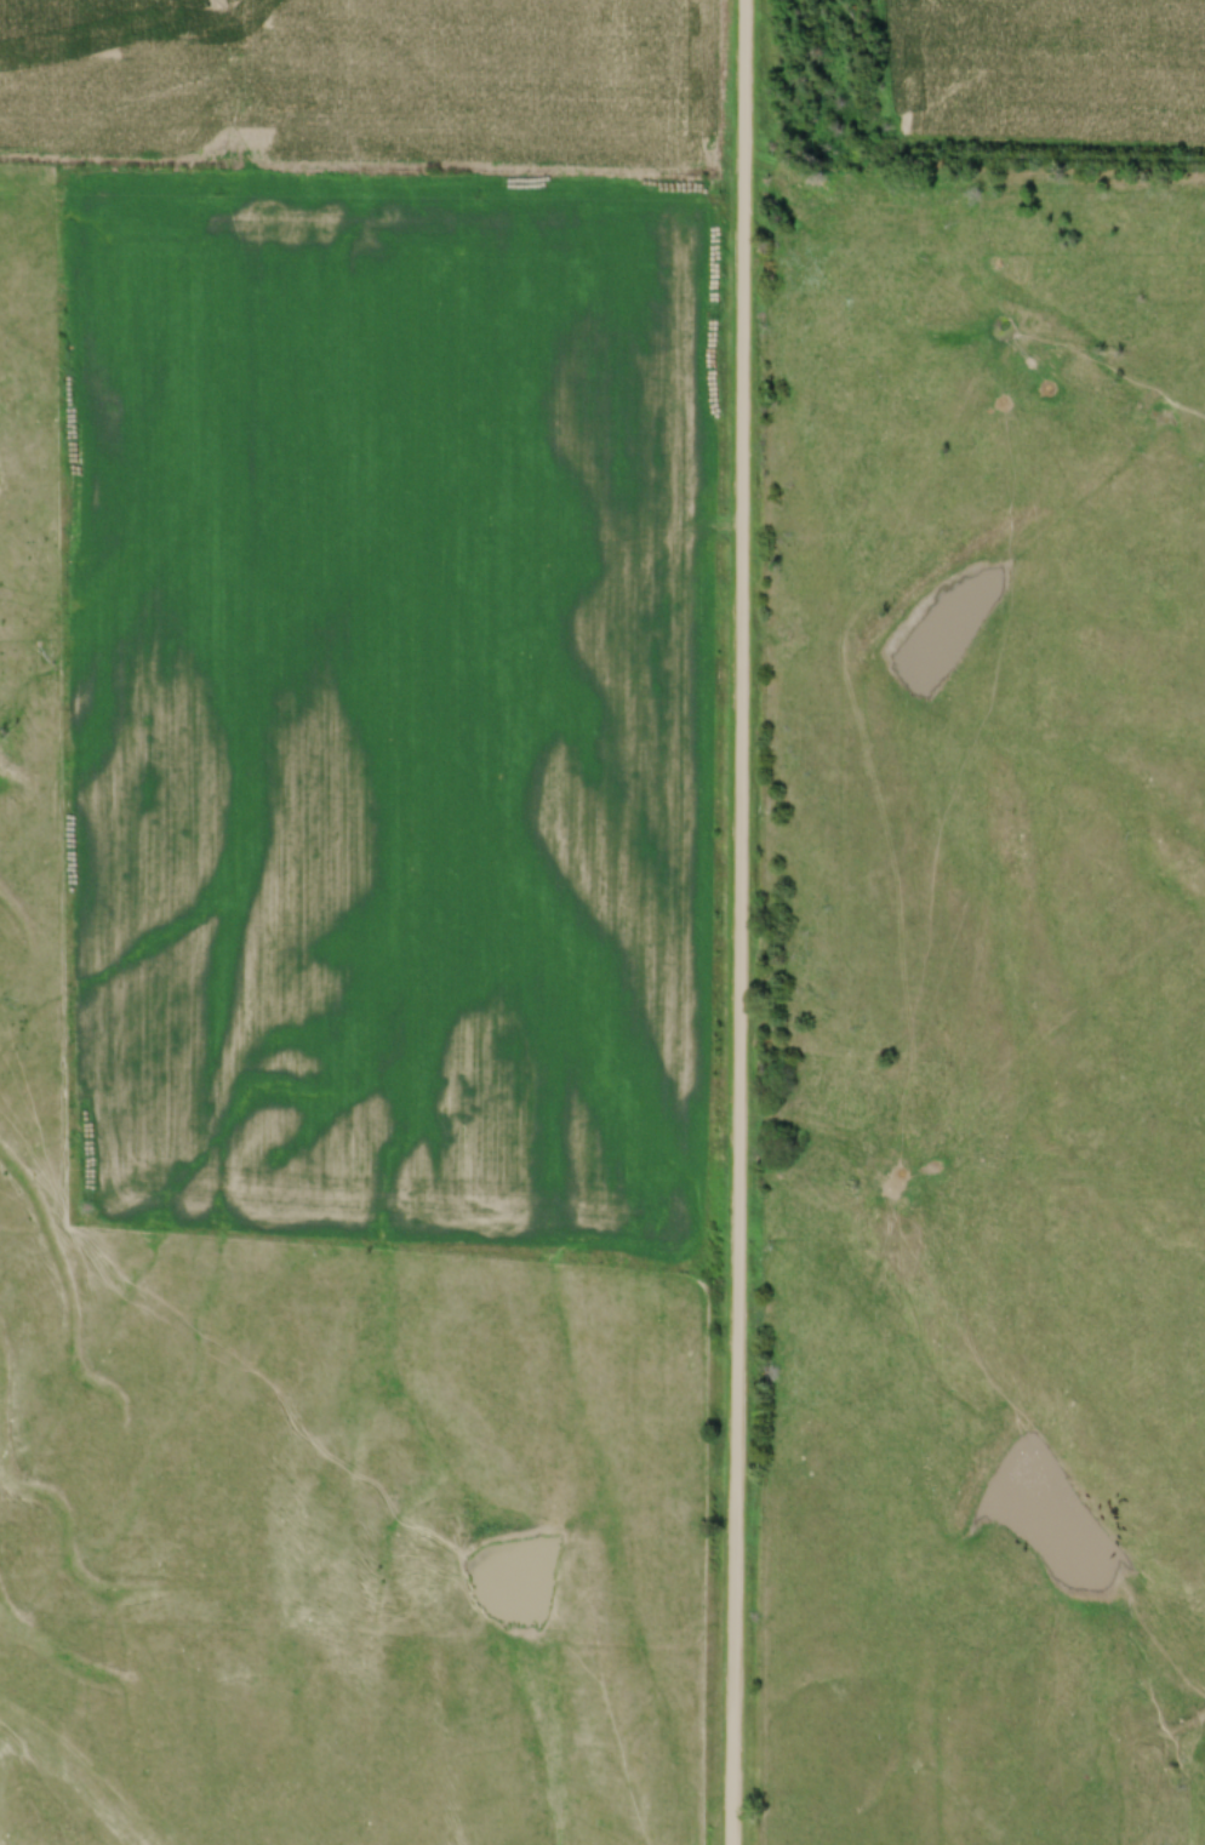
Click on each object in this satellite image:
road: (742, 922)

